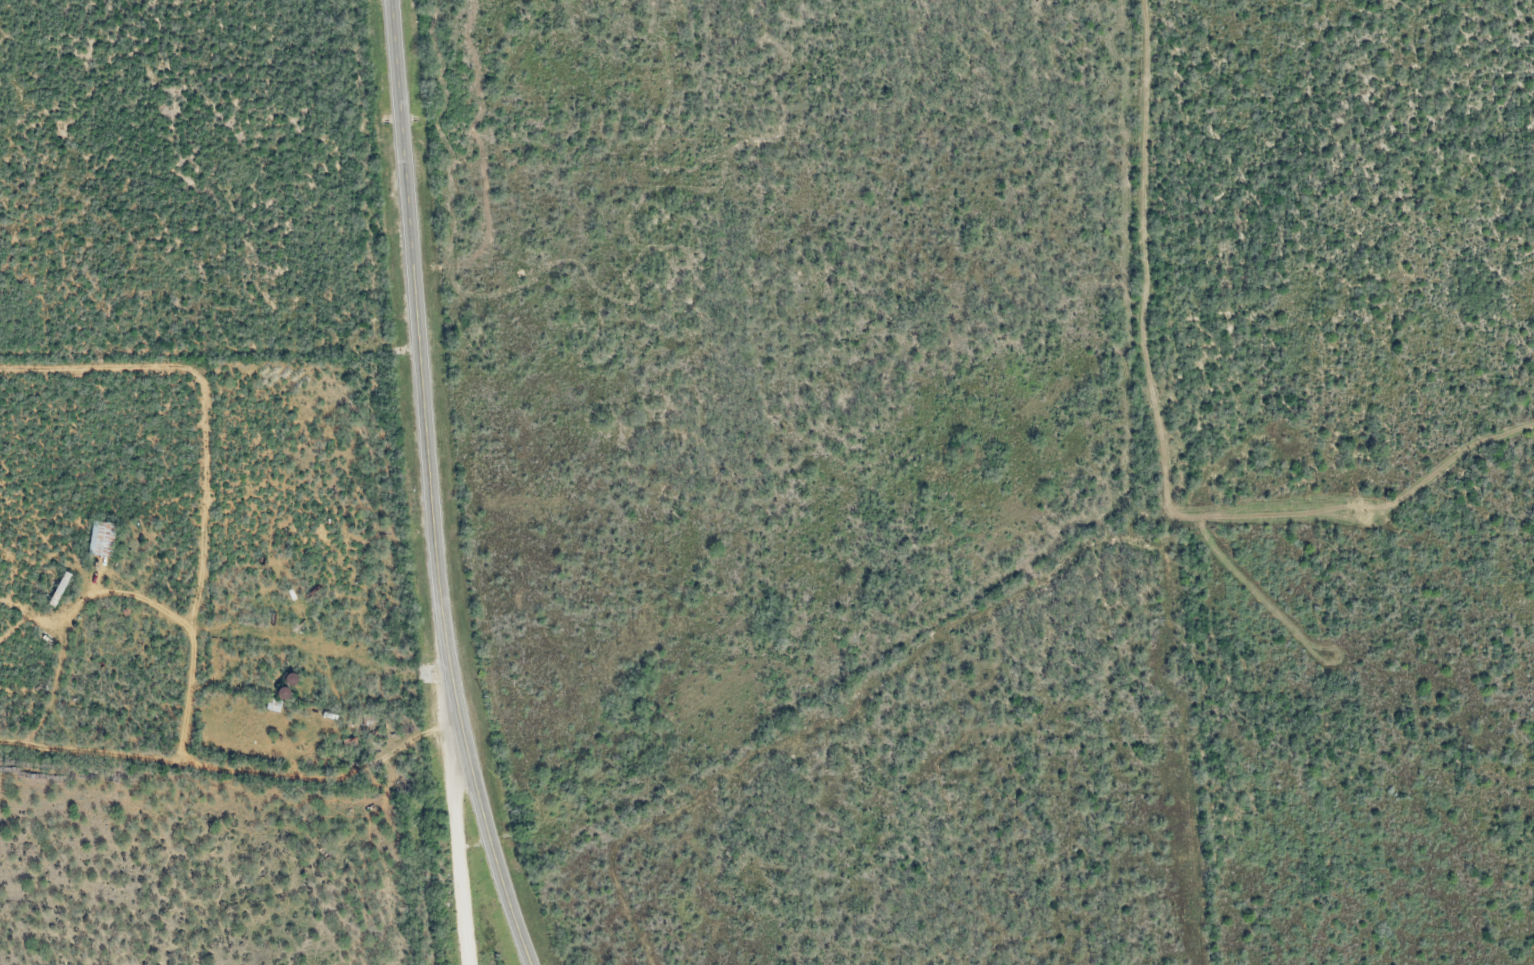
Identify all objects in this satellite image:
road: (430, 487)
building: (104, 537)
building: (60, 590)
road: (456, 851)

